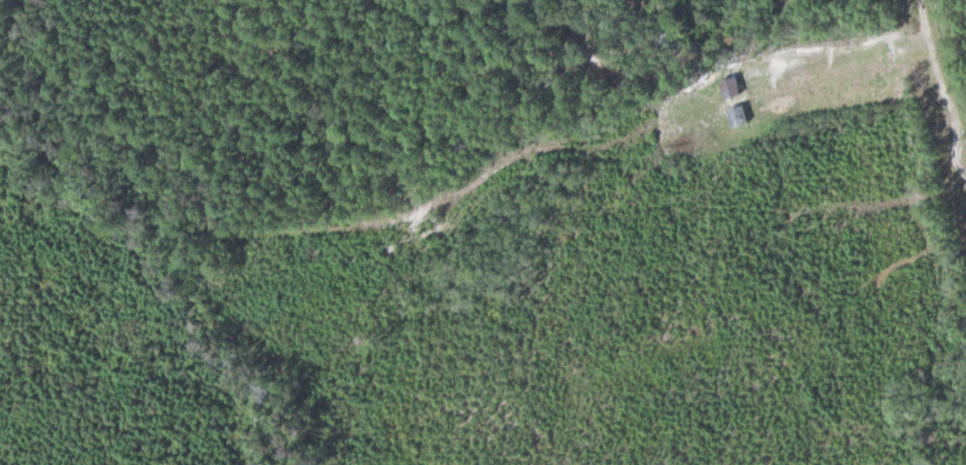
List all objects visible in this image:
building: (607, 62)
road: (939, 91)

